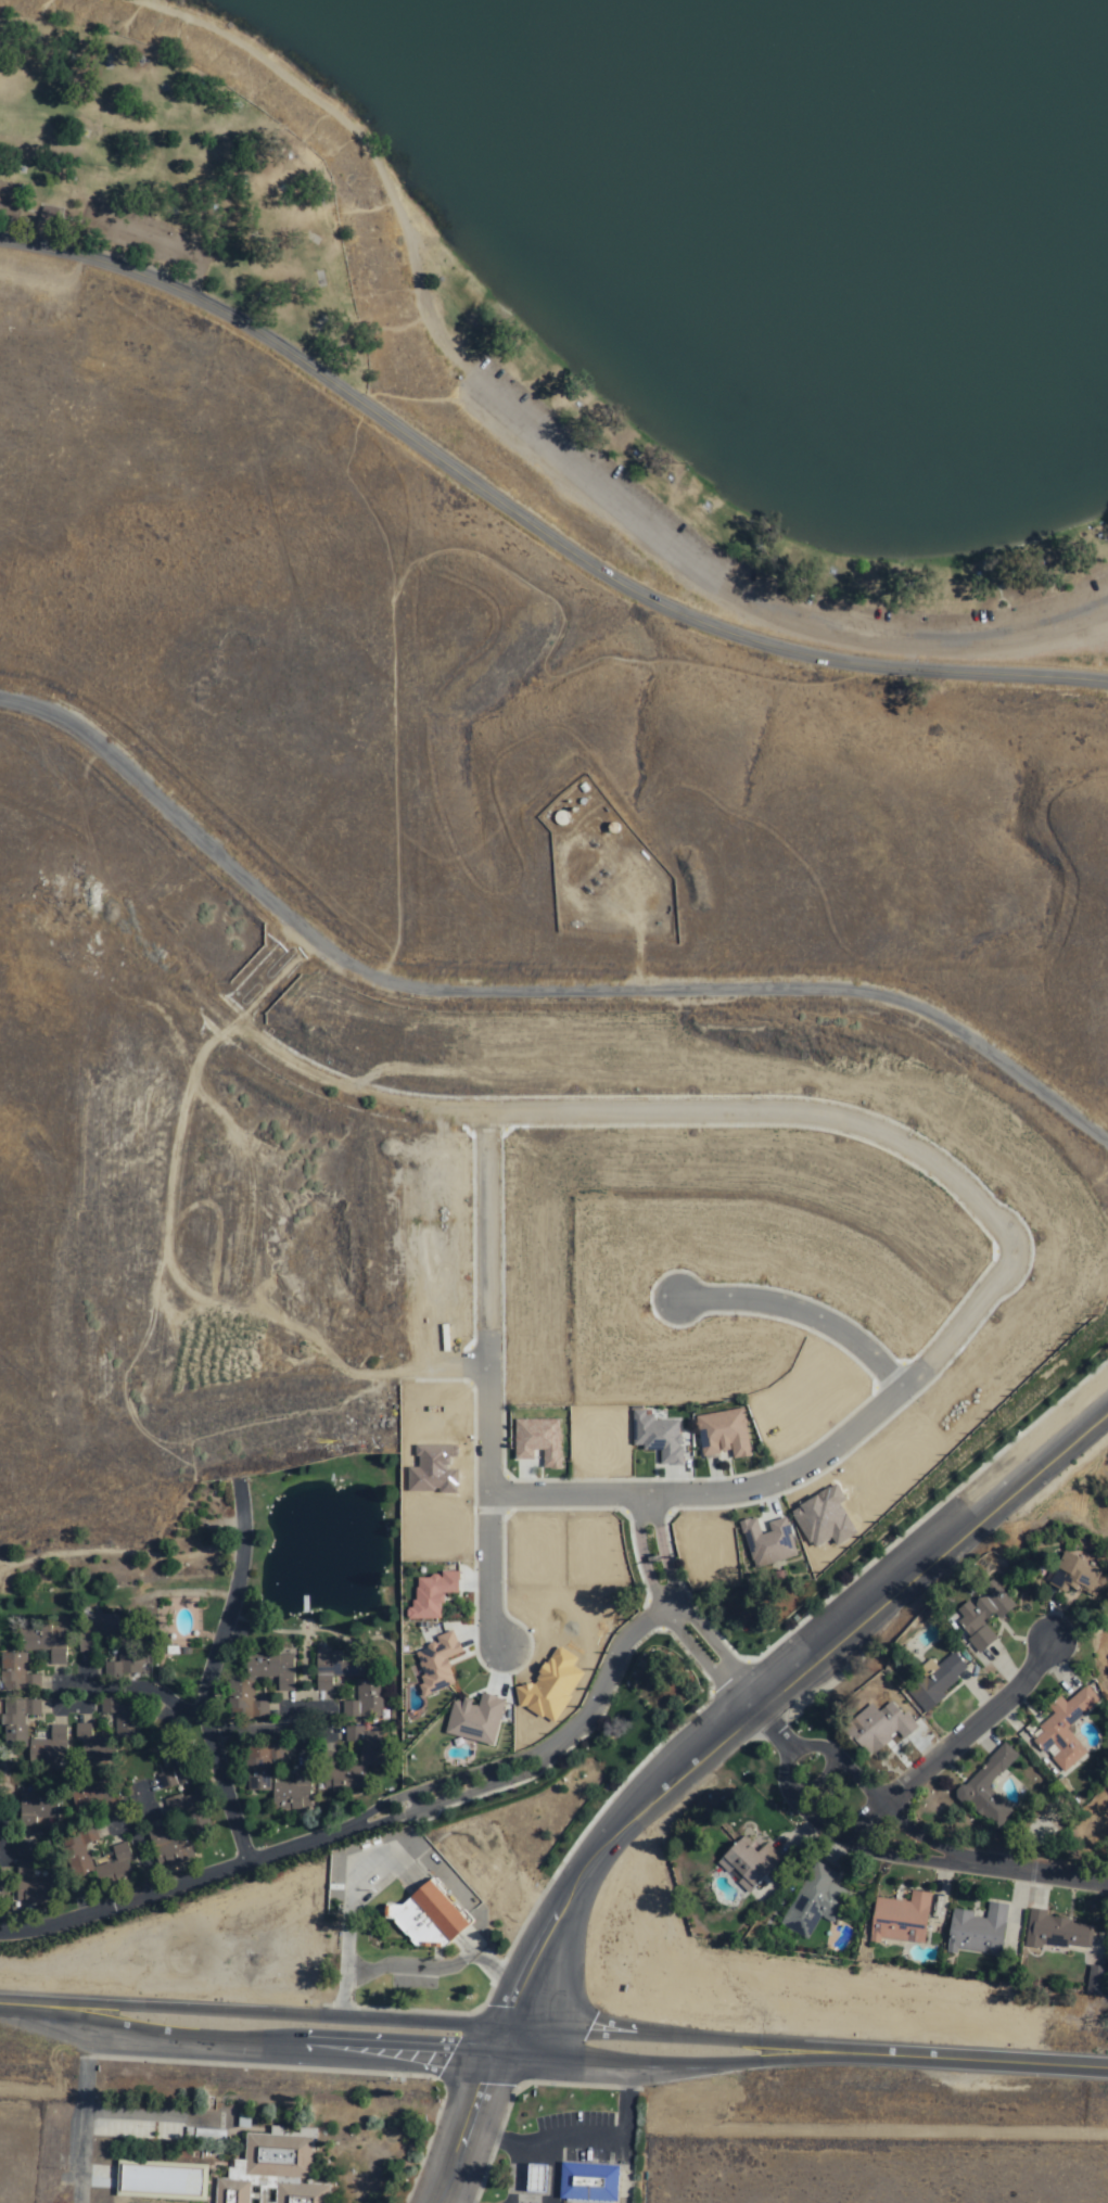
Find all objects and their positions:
park: (586, 481)
road: (532, 512)
park: (497, 598)
road: (524, 992)
road: (777, 1111)
road: (802, 1313)
road: (485, 1380)
building: (722, 1434)
building: (657, 1437)
building: (537, 1440)
building: (432, 1469)
road: (790, 1472)
building: (766, 1542)
road: (651, 1549)
road: (116, 1556)
road: (4, 1566)
building: (1070, 1576)
building: (431, 1594)
building: (984, 1617)
building: (100, 1630)
building: (53, 1643)
building: (129, 1659)
building: (436, 1663)
building: (110, 1668)
road: (208, 1668)
building: (339, 1670)
building: (276, 1671)
building: (18, 1673)
building: (937, 1682)
road: (737, 1692)
road: (166, 1695)
building: (368, 1702)
building: (249, 1705)
building: (23, 1714)
building: (122, 1716)
building: (474, 1719)
building: (1067, 1728)
building: (876, 1729)
road: (235, 1732)
road: (948, 1740)
building: (92, 1743)
building: (368, 1746)
building: (52, 1747)
road: (706, 1749)
building: (181, 1766)
building: (263, 1767)
building: (342, 1777)
road: (853, 1777)
building: (990, 1791)
building: (295, 1792)
building: (97, 1800)
road: (412, 1805)
building: (38, 1808)
building: (194, 1814)
road: (819, 1828)
road: (14, 1836)
road: (169, 1843)
building: (171, 1849)
building: (80, 1852)
building: (751, 1864)
road: (1031, 1867)
building: (117, 1868)
building: (37, 1887)
building: (3, 1890)
building: (815, 1902)
building: (424, 1918)
building: (901, 1920)
building: (979, 1931)
building: (1056, 1932)
building: (468, 1936)
building: (1098, 1979)
road: (553, 2045)
road: (84, 2108)
road: (600, 2138)
road: (508, 2142)
building: (272, 2170)
building: (160, 2178)
building: (535, 2178)
building: (587, 2182)
road: (453, 2200)

